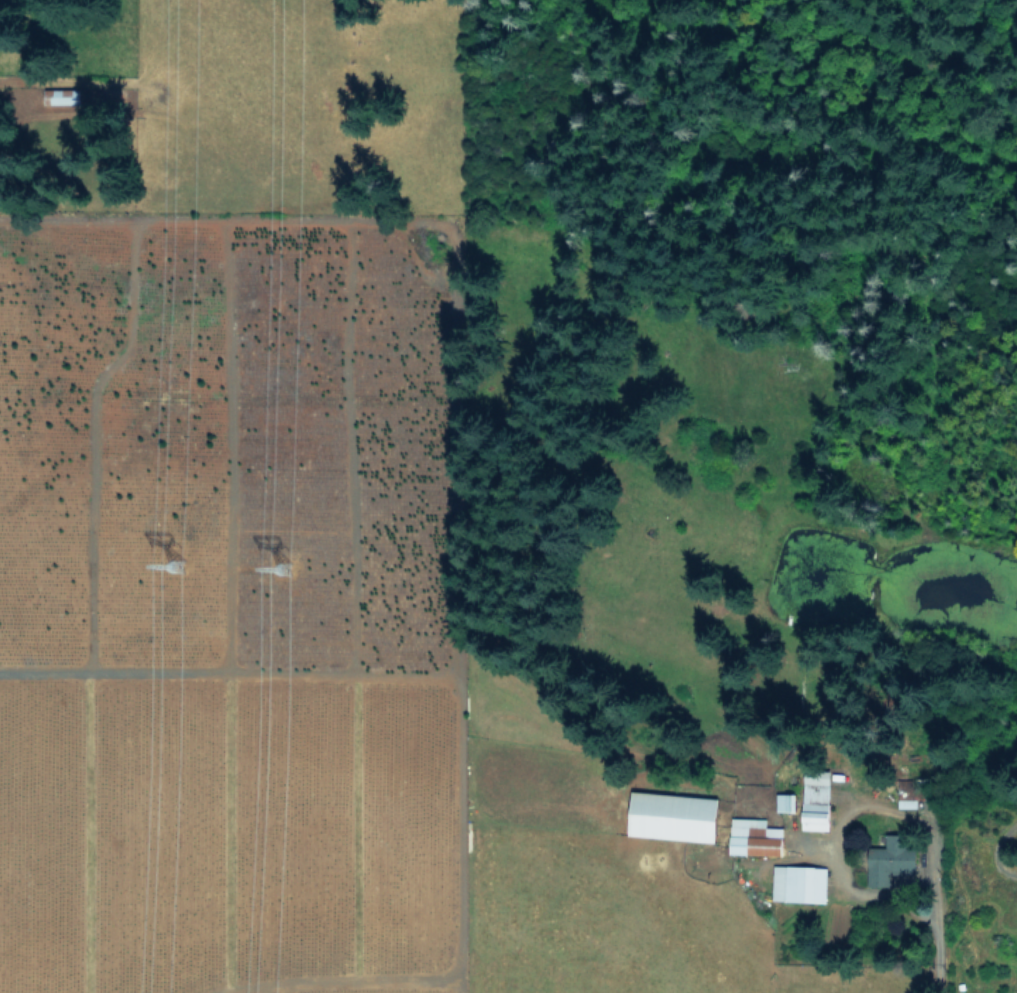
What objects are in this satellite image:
building: (63, 95)
power tower: (293, 575)
power tower: (189, 579)
building: (817, 799)
building: (786, 801)
building: (674, 816)
road: (843, 822)
building: (755, 837)
road: (995, 851)
building: (891, 860)
building: (800, 883)
road: (938, 942)

